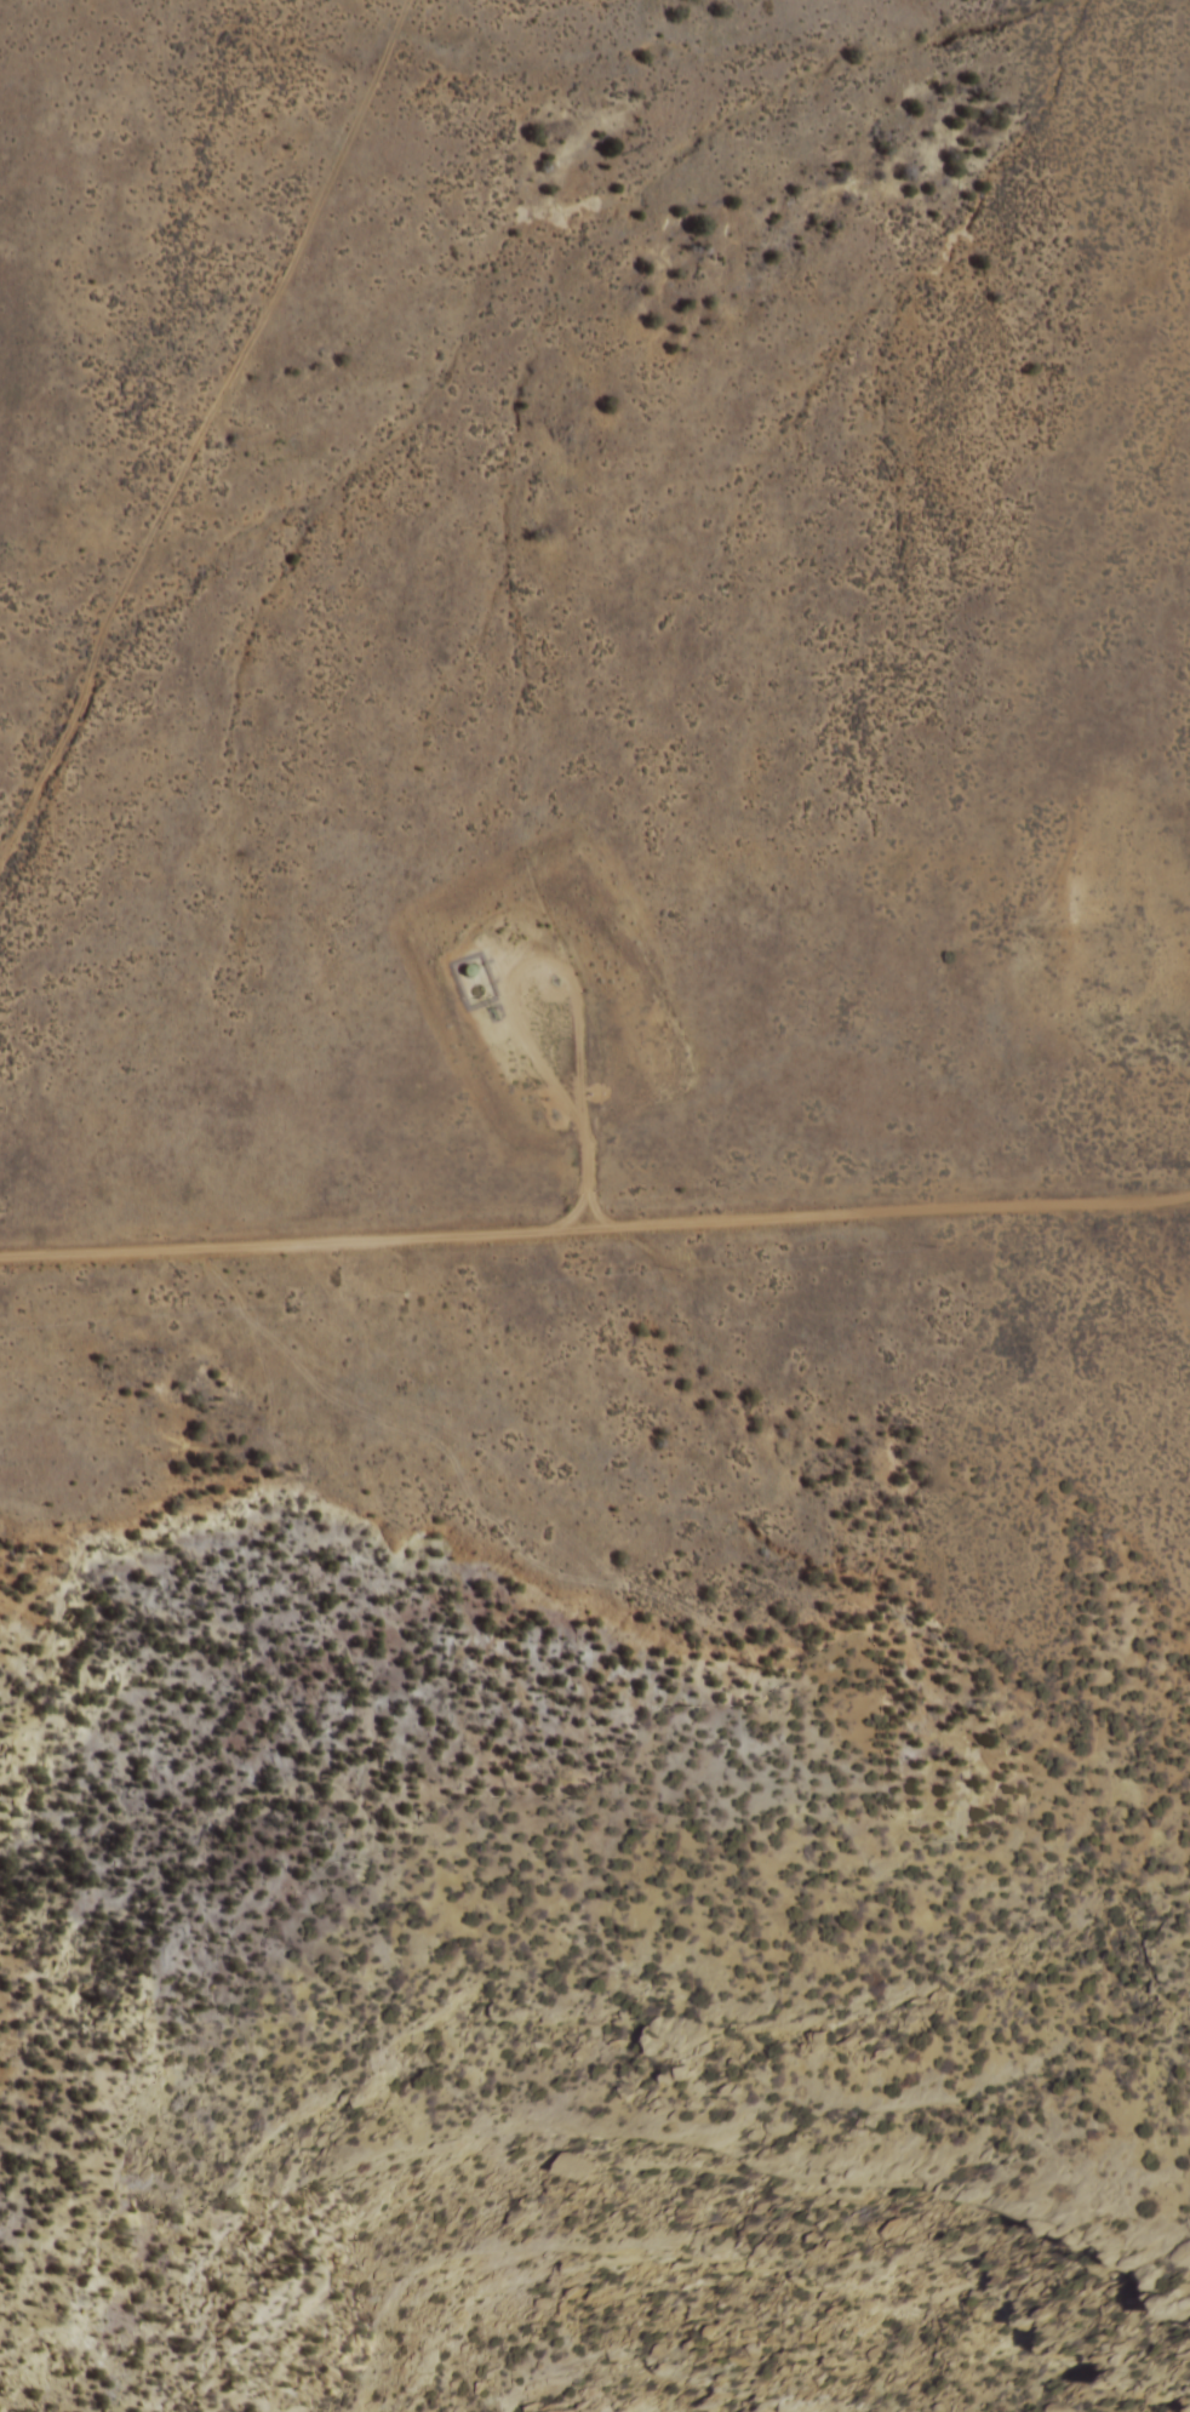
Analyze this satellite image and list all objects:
road: (595, 1179)

